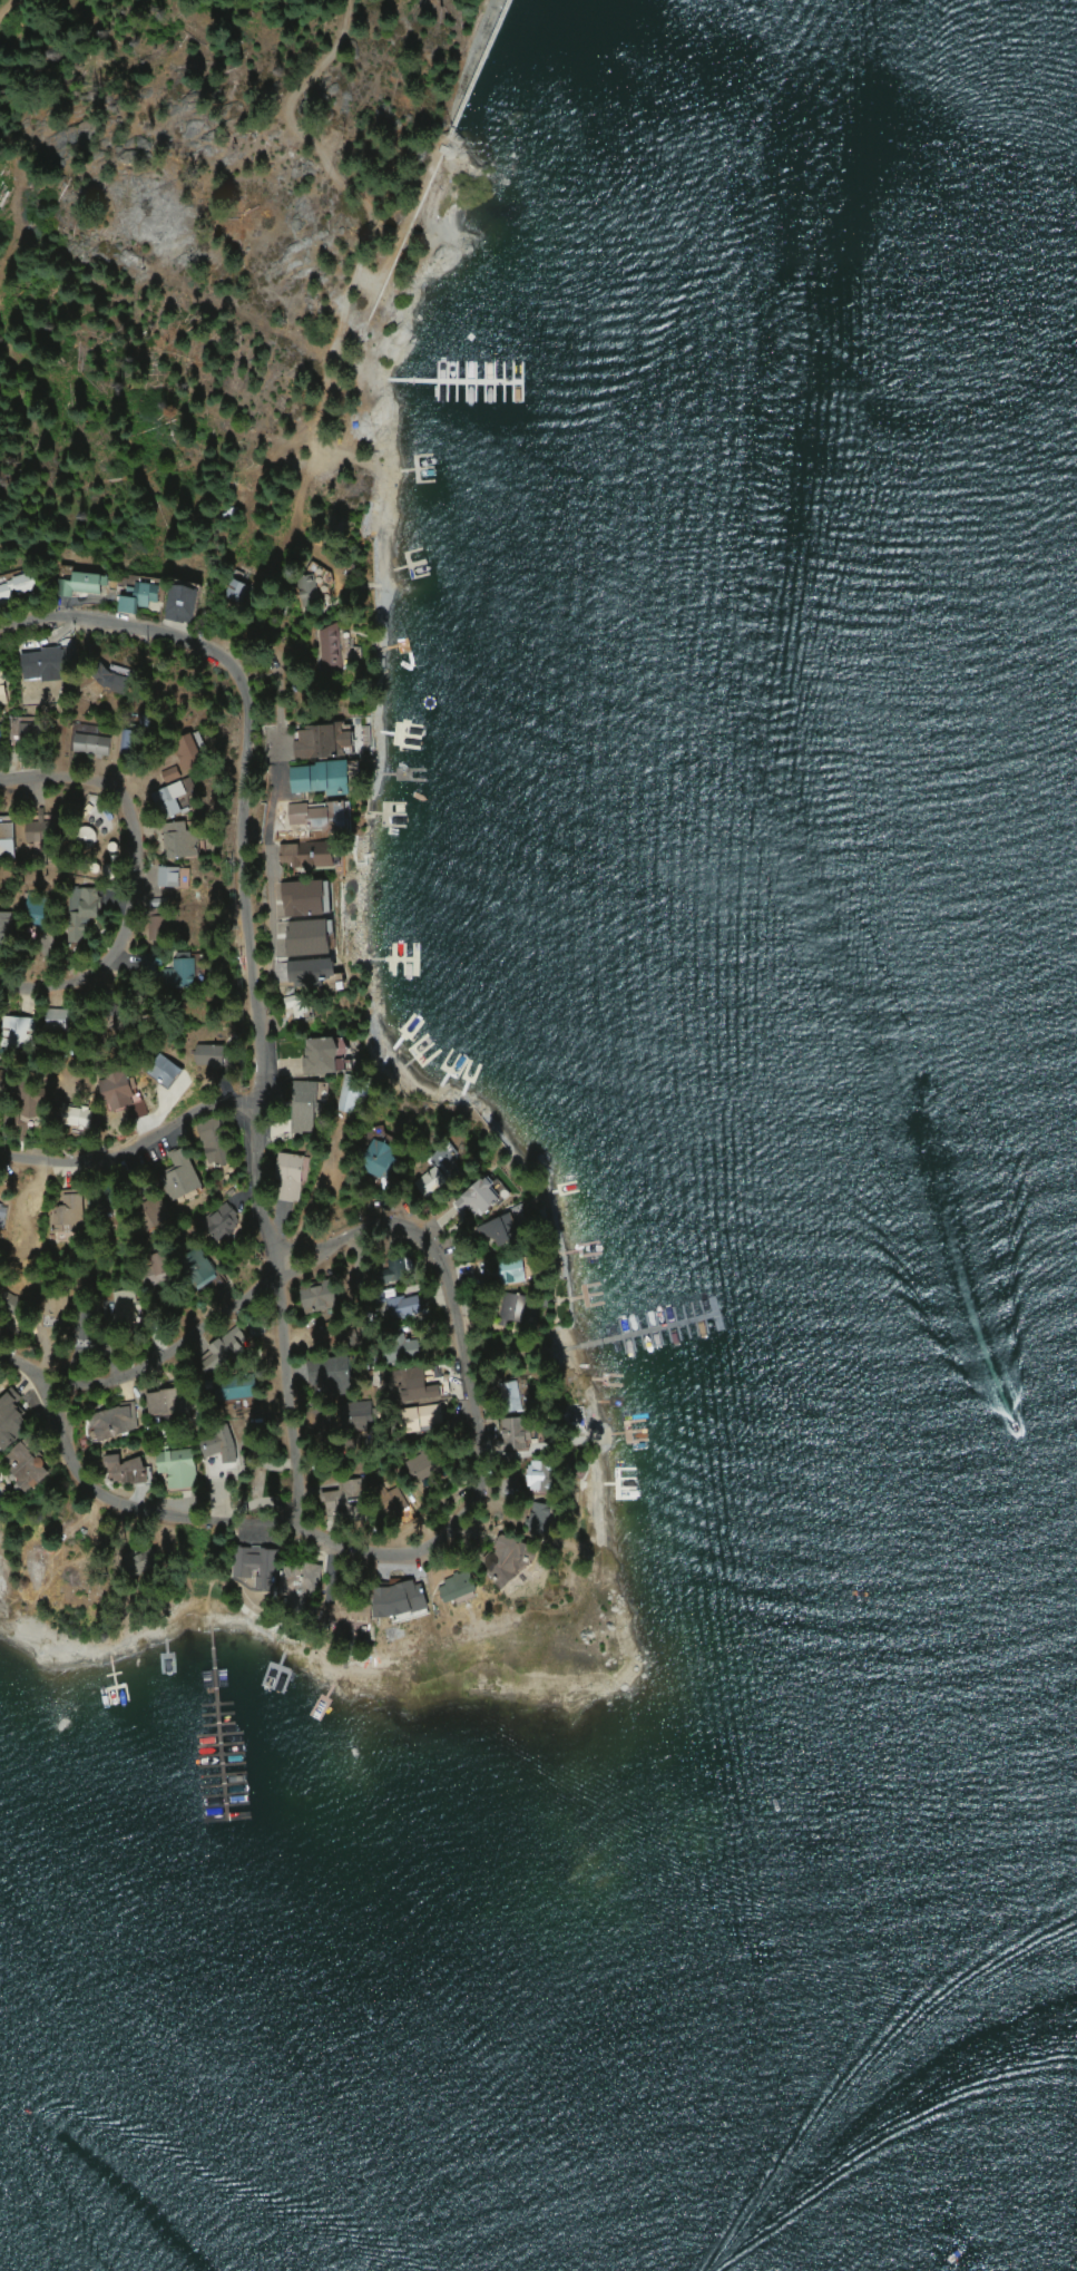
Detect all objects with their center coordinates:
dam: (482, 43)
building: (88, 583)
building: (311, 587)
building: (140, 600)
building: (184, 604)
building: (336, 650)
building: (45, 664)
building: (111, 675)
building: (3, 688)
building: (326, 742)
building: (92, 744)
building: (187, 744)
road: (241, 752)
building: (173, 773)
building: (321, 778)
road: (123, 779)
building: (170, 799)
building: (322, 816)
building: (8, 841)
building: (182, 844)
road: (273, 855)
building: (310, 855)
building: (304, 899)
building: (6, 927)
building: (310, 938)
road: (117, 964)
building: (170, 972)
building: (312, 973)
building: (59, 1018)
building: (17, 1032)
building: (214, 1056)
building: (322, 1056)
building: (166, 1072)
building: (124, 1096)
building: (355, 1099)
building: (306, 1108)
building: (77, 1118)
road: (140, 1141)
building: (184, 1178)
building: (293, 1178)
building: (481, 1199)
road: (438, 1212)
building: (154, 1214)
building: (224, 1222)
building: (408, 1265)
building: (199, 1269)
building: (516, 1271)
building: (401, 1305)
building: (517, 1308)
road: (198, 1322)
building: (231, 1345)
building: (408, 1352)
pier: (753, 1365)
pier: (675, 1370)
building: (330, 1372)
road: (280, 1384)
building: (413, 1384)
building: (233, 1393)
road: (77, 1395)
building: (516, 1397)
building: (422, 1419)
building: (118, 1422)
building: (27, 1468)
building: (179, 1468)
building: (422, 1469)
building: (127, 1471)
building: (539, 1475)
road: (491, 1490)
building: (351, 1494)
building: (260, 1568)
building: (296, 1588)
building: (458, 1589)
building: (400, 1601)
building: (346, 1617)
pier: (129, 1811)
pier: (119, 1901)

